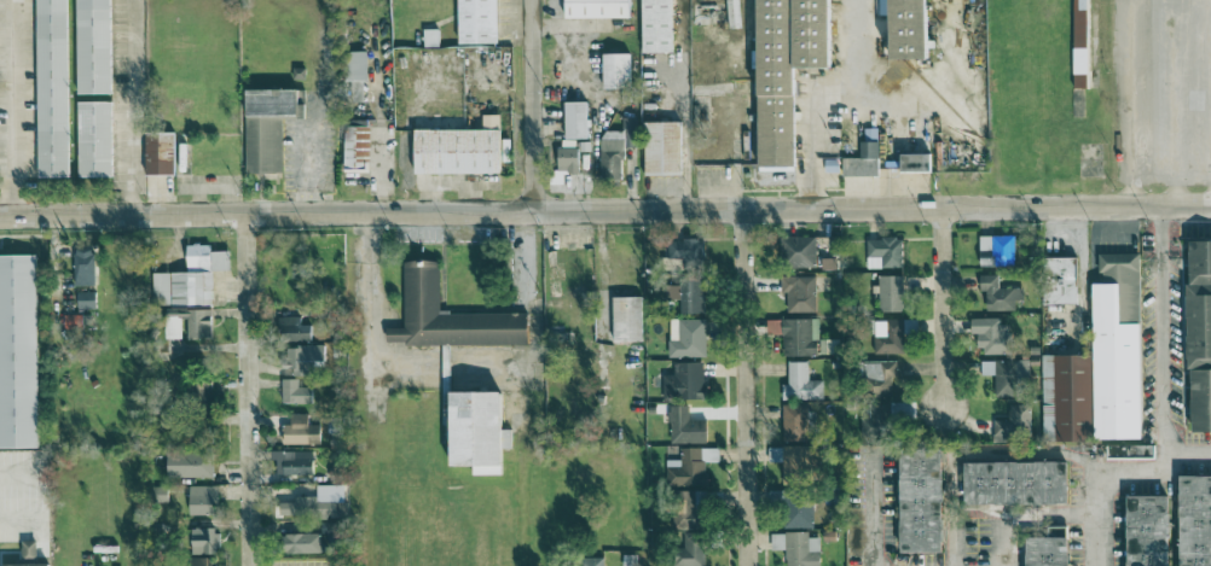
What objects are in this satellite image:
building: (596, 8)
building: (477, 22)
building: (656, 25)
building: (908, 29)
building: (1080, 43)
building: (93, 47)
building: (786, 69)
building: (615, 70)
building: (355, 76)
building: (52, 88)
road: (825, 101)
road: (1126, 103)
road: (533, 105)
road: (133, 106)
road: (11, 107)
building: (575, 119)
building: (266, 127)
building: (94, 139)
building: (355, 148)
building: (615, 148)
building: (662, 148)
building: (458, 150)
building: (158, 153)
building: (567, 159)
building: (862, 162)
building: (915, 163)
road: (605, 210)
building: (685, 250)
building: (996, 250)
building: (800, 251)
building: (883, 252)
road: (527, 256)
building: (828, 263)
building: (83, 267)
building: (190, 279)
building: (1059, 280)
building: (799, 293)
building: (890, 293)
building: (998, 294)
building: (689, 296)
building: (86, 300)
building: (1200, 305)
road: (944, 308)
building: (448, 316)
building: (626, 319)
building: (189, 323)
building: (292, 329)
building: (991, 335)
building: (801, 337)
building: (887, 337)
road: (1164, 337)
building: (686, 338)
building: (18, 352)
building: (306, 357)
building: (1100, 364)
building: (1007, 375)
building: (879, 378)
building: (684, 383)
building: (800, 384)
road: (746, 387)
road: (247, 389)
building: (199, 391)
building: (295, 392)
building: (1201, 399)
building: (904, 412)
building: (794, 422)
building: (875, 424)
building: (1013, 425)
building: (685, 427)
building: (300, 431)
building: (477, 432)
building: (1130, 451)
road: (972, 455)
building: (290, 462)
building: (793, 462)
building: (189, 465)
building: (690, 467)
road: (1108, 471)
building: (1014, 483)
building: (202, 500)
building: (920, 500)
building: (315, 503)
building: (796, 508)
building: (689, 509)
road: (876, 512)
building: (1195, 520)
building: (1148, 530)
building: (203, 541)
building: (301, 543)
road: (997, 547)
building: (796, 548)
building: (28, 550)
building: (690, 550)
building: (1048, 552)
building: (201, 561)
building: (591, 561)
building: (28, 565)

